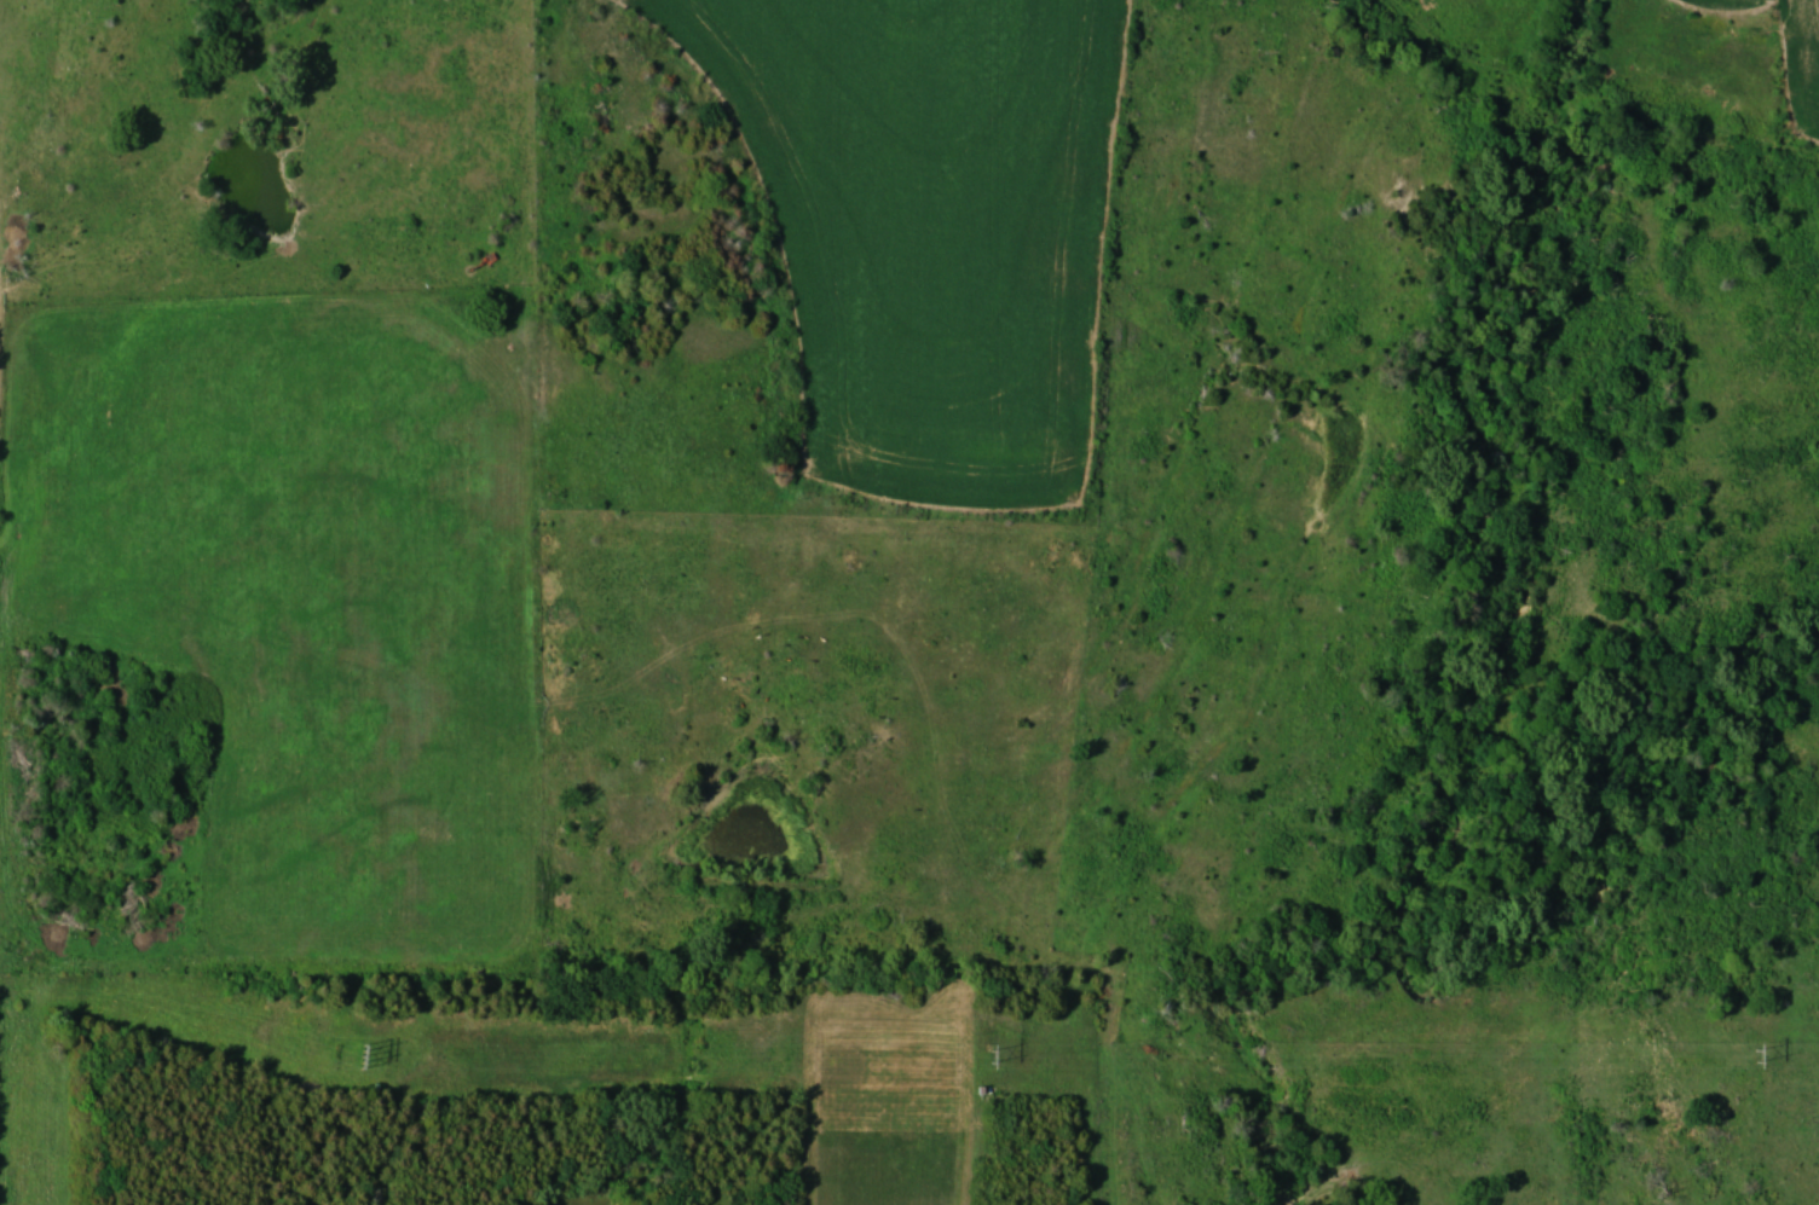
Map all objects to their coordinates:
power tower: (359, 1054)
power tower: (988, 1054)
power tower: (1754, 1054)

